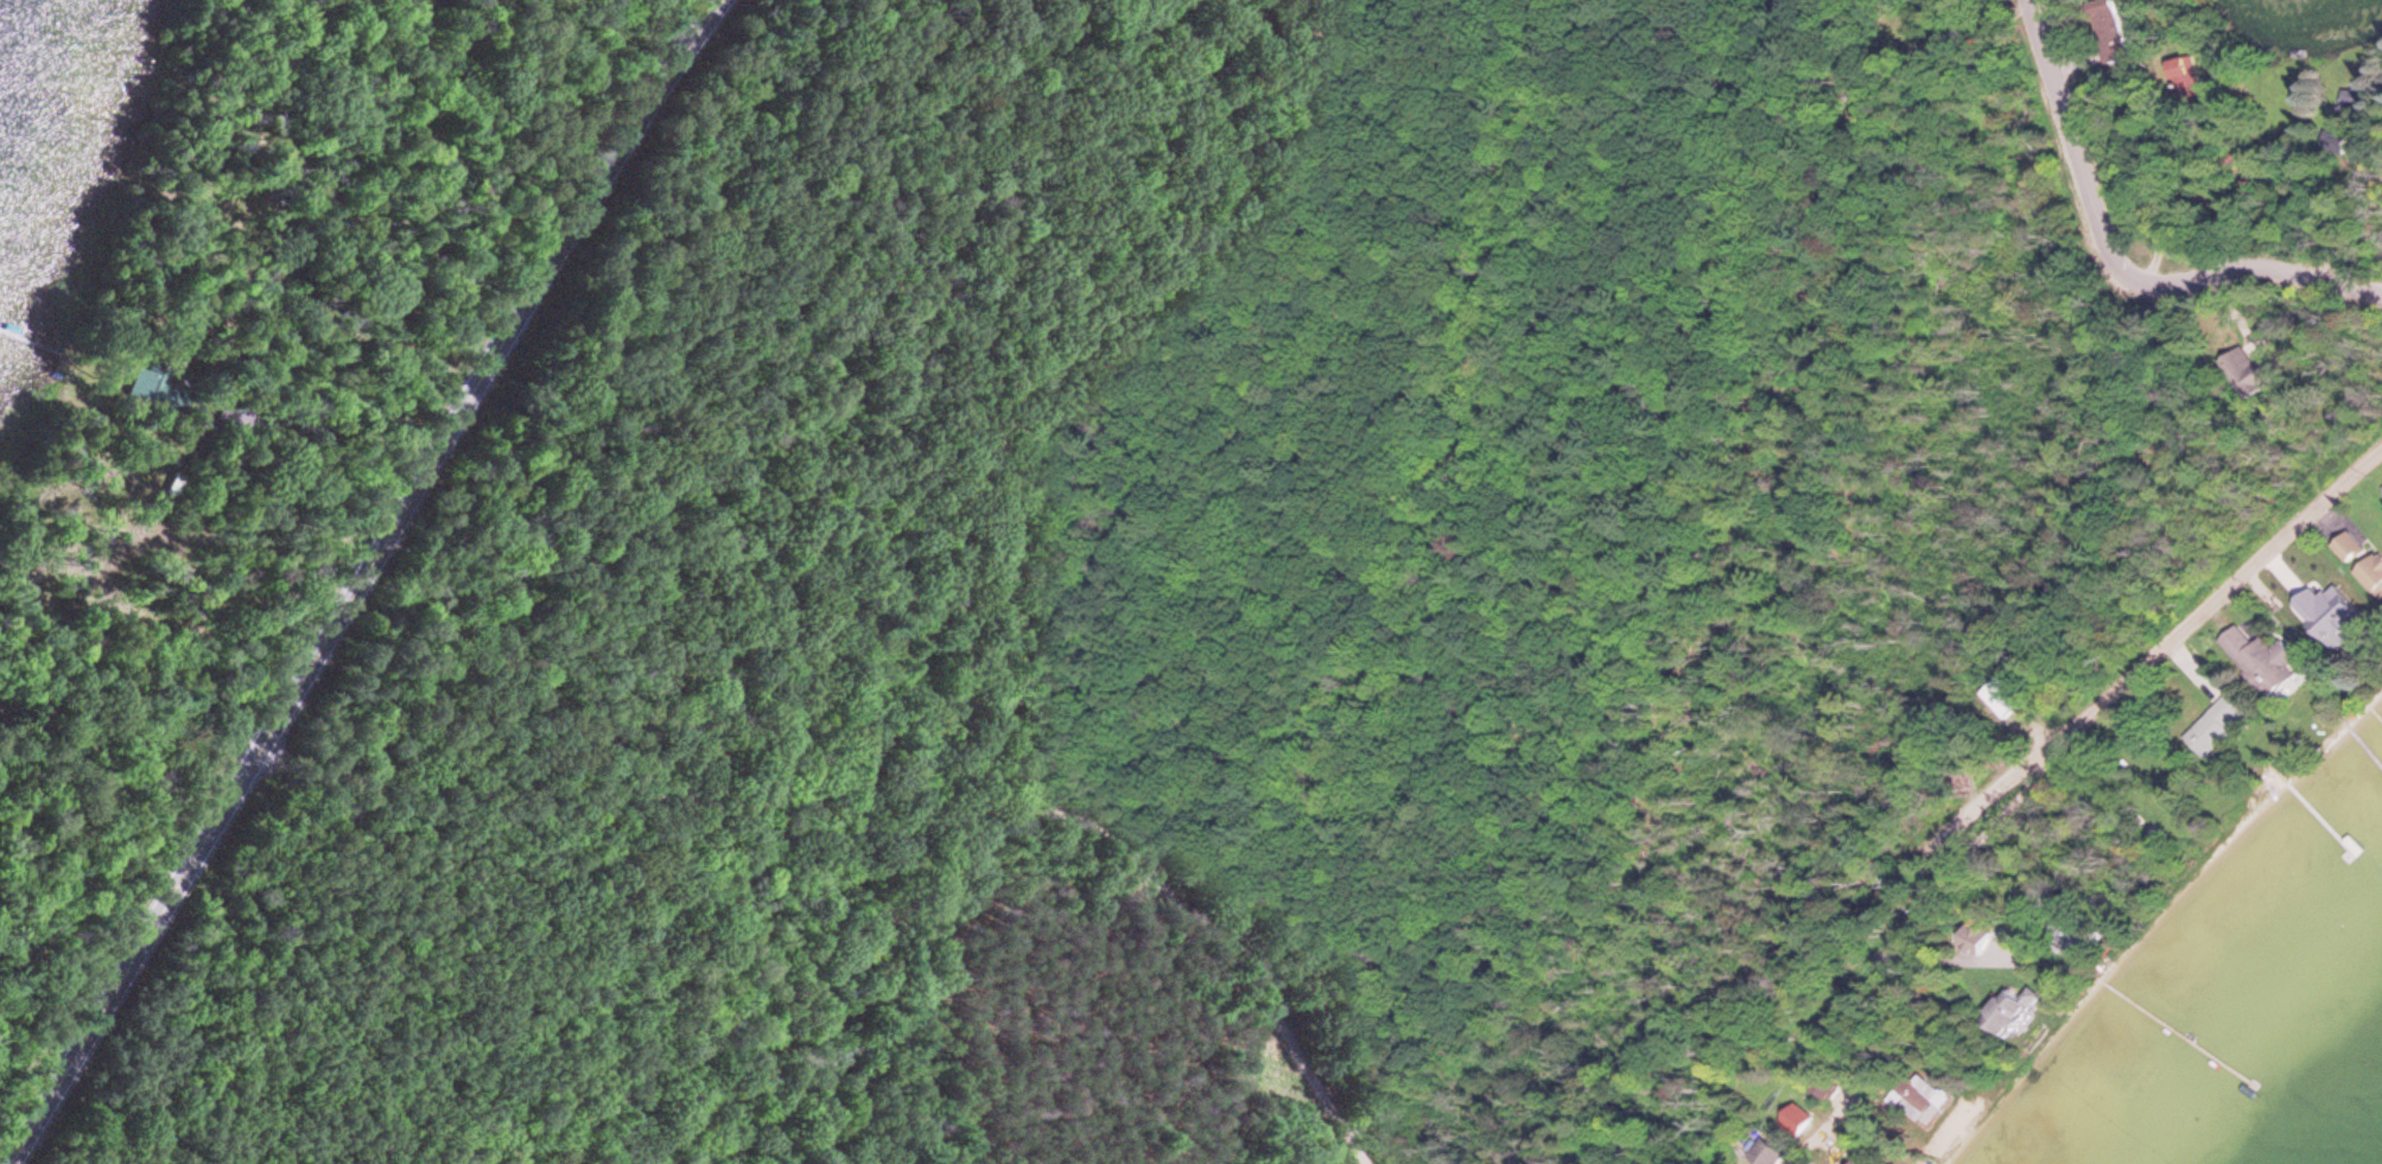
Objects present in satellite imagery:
building: (2105, 23)
river: (2311, 24)
road: (2113, 269)
road: (542, 278)
building: (2242, 364)
building: (152, 384)
road: (305, 449)
building: (211, 464)
building: (170, 483)
road: (2287, 536)
building: (2311, 587)
road: (2158, 654)
building: (2260, 662)
building: (2003, 700)
building: (2211, 732)
road: (2028, 757)
road: (574, 794)
road: (186, 861)
road: (1188, 905)
building: (2003, 1018)
building: (1917, 1099)
road: (1810, 1139)
building: (1857, 1160)

